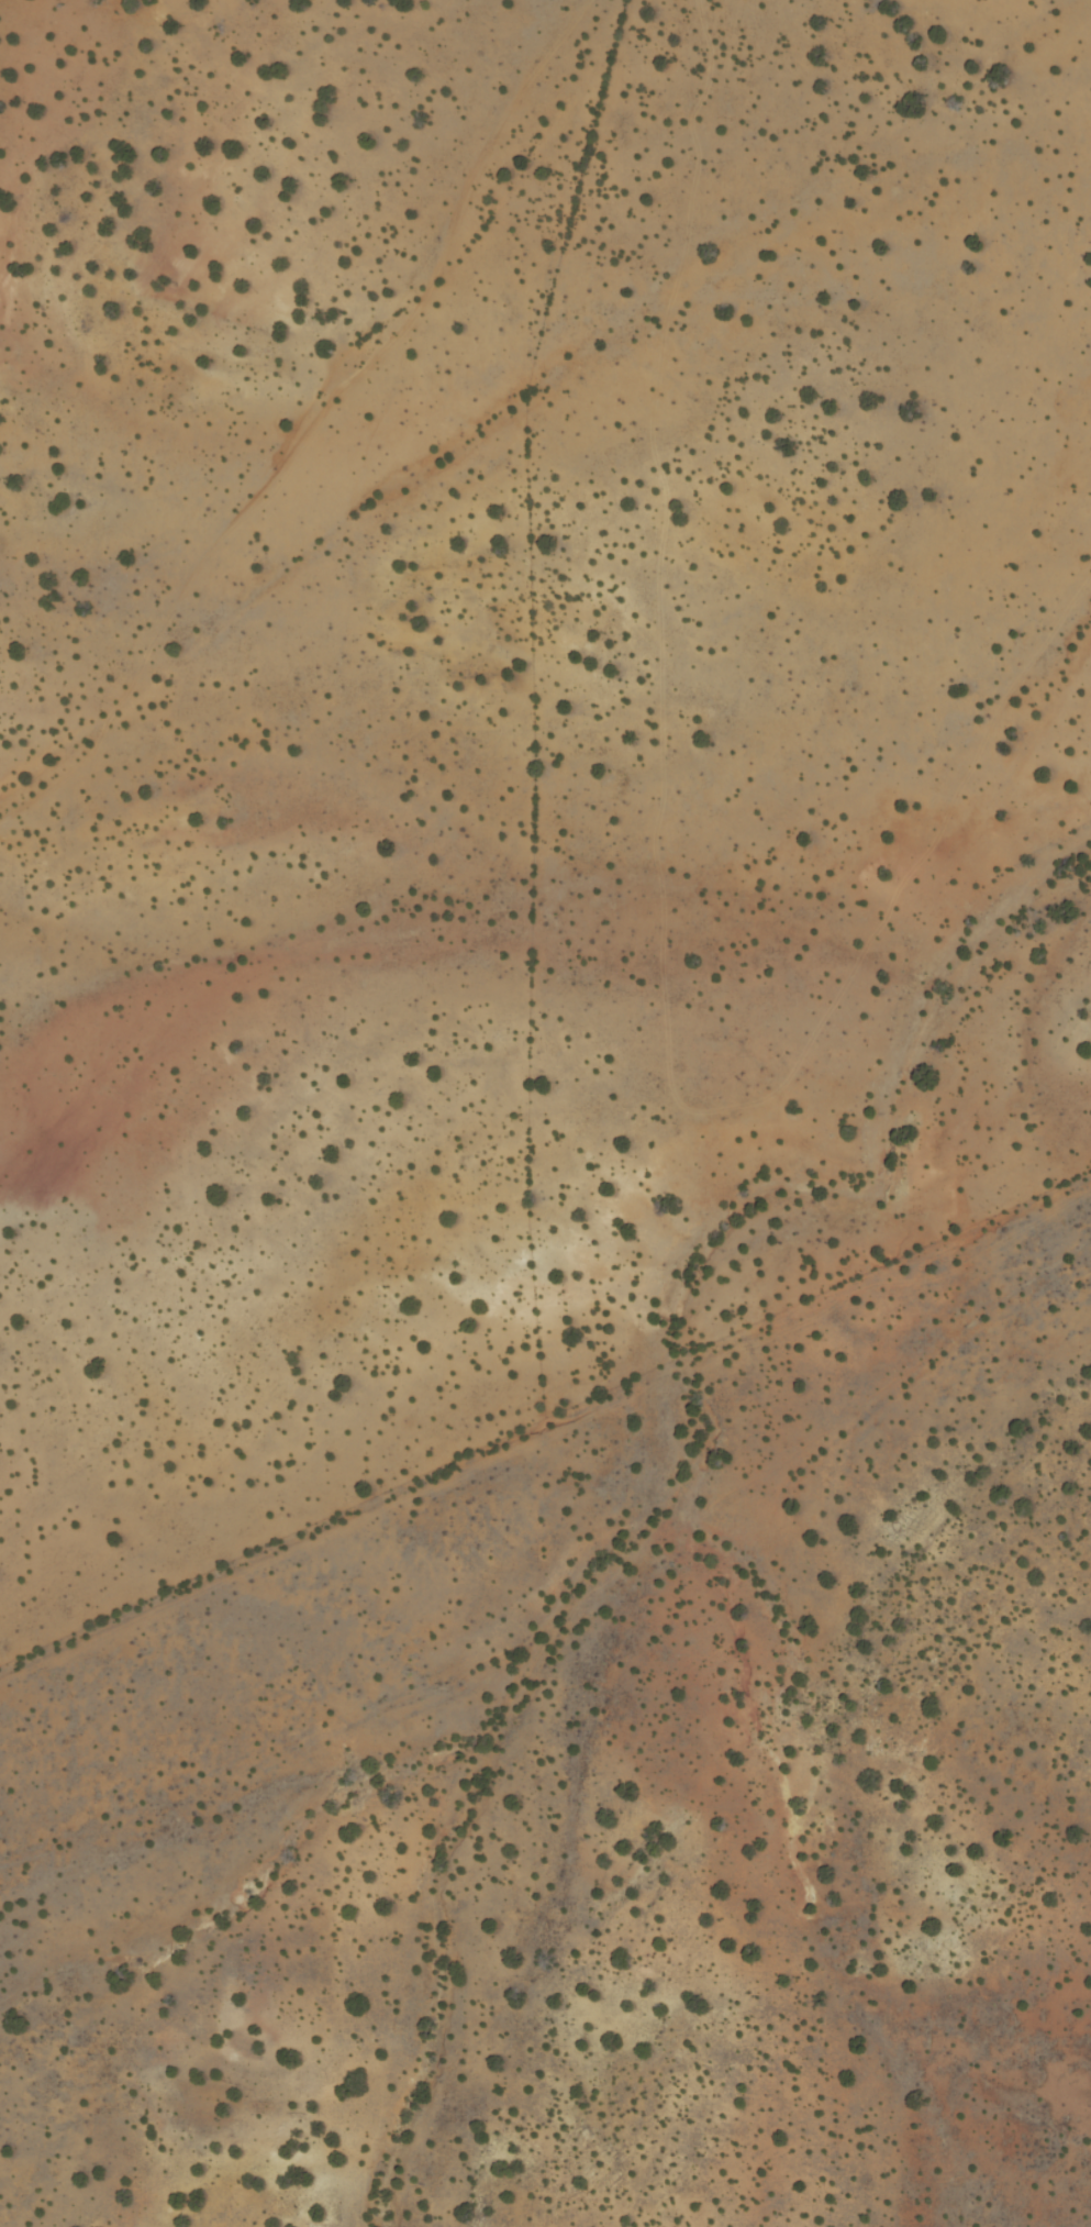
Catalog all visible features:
road: (545, 1398)

